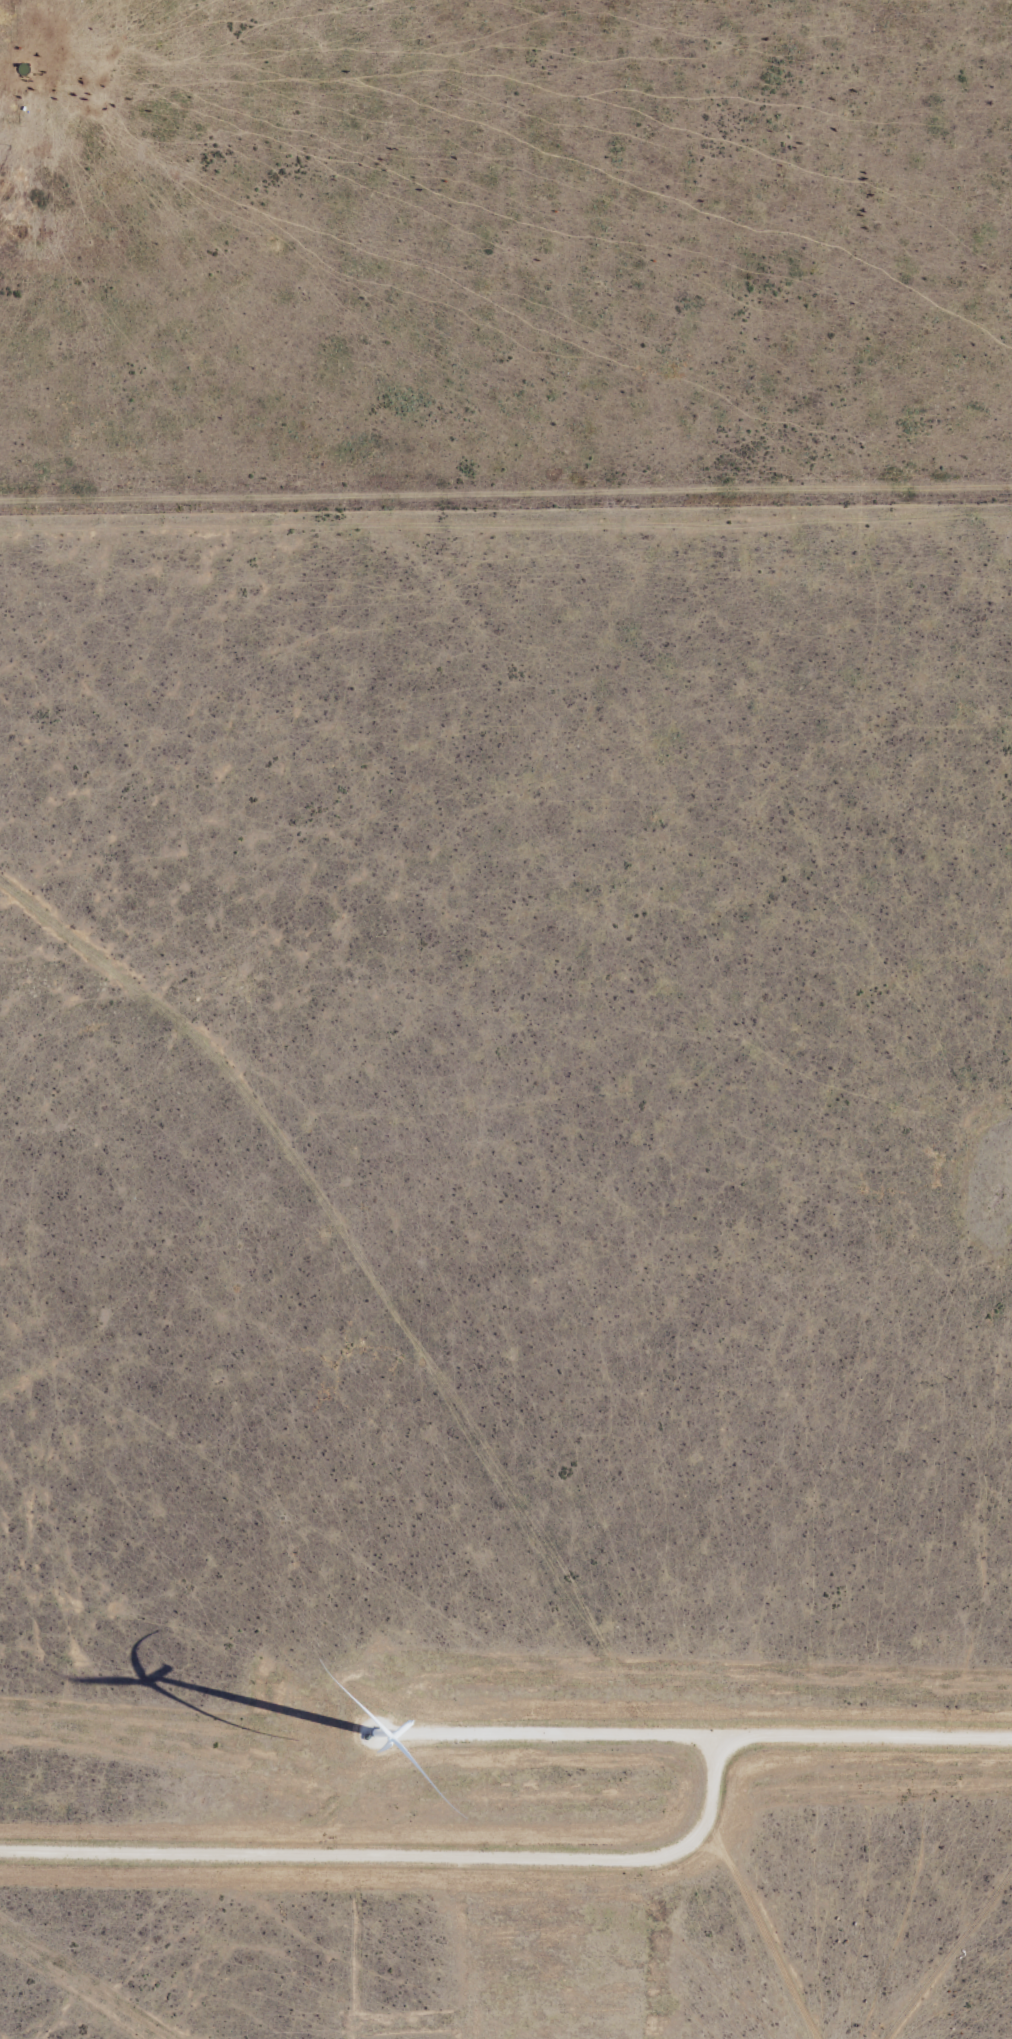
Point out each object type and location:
wind turbine: (370, 1729)

